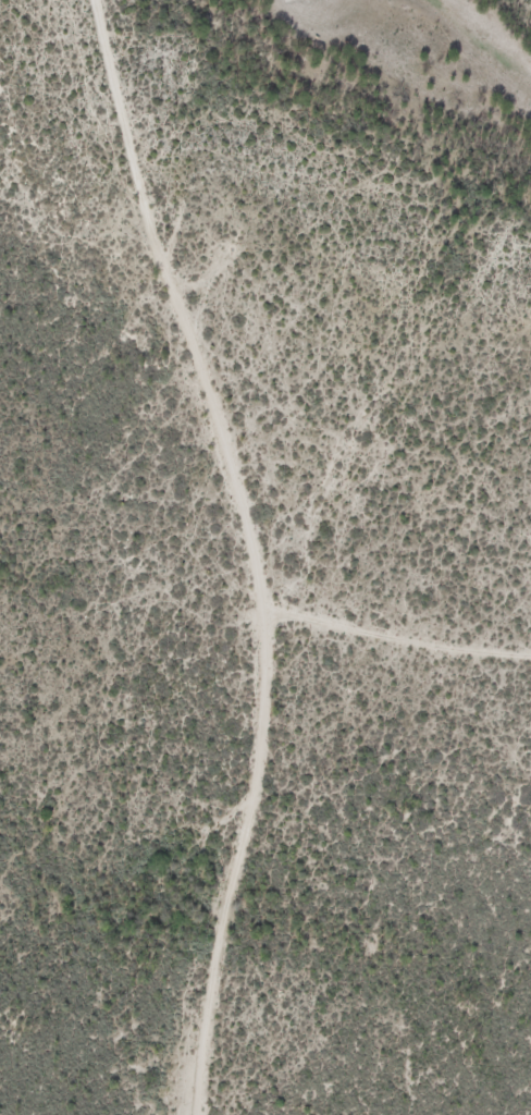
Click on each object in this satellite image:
road: (258, 548)

